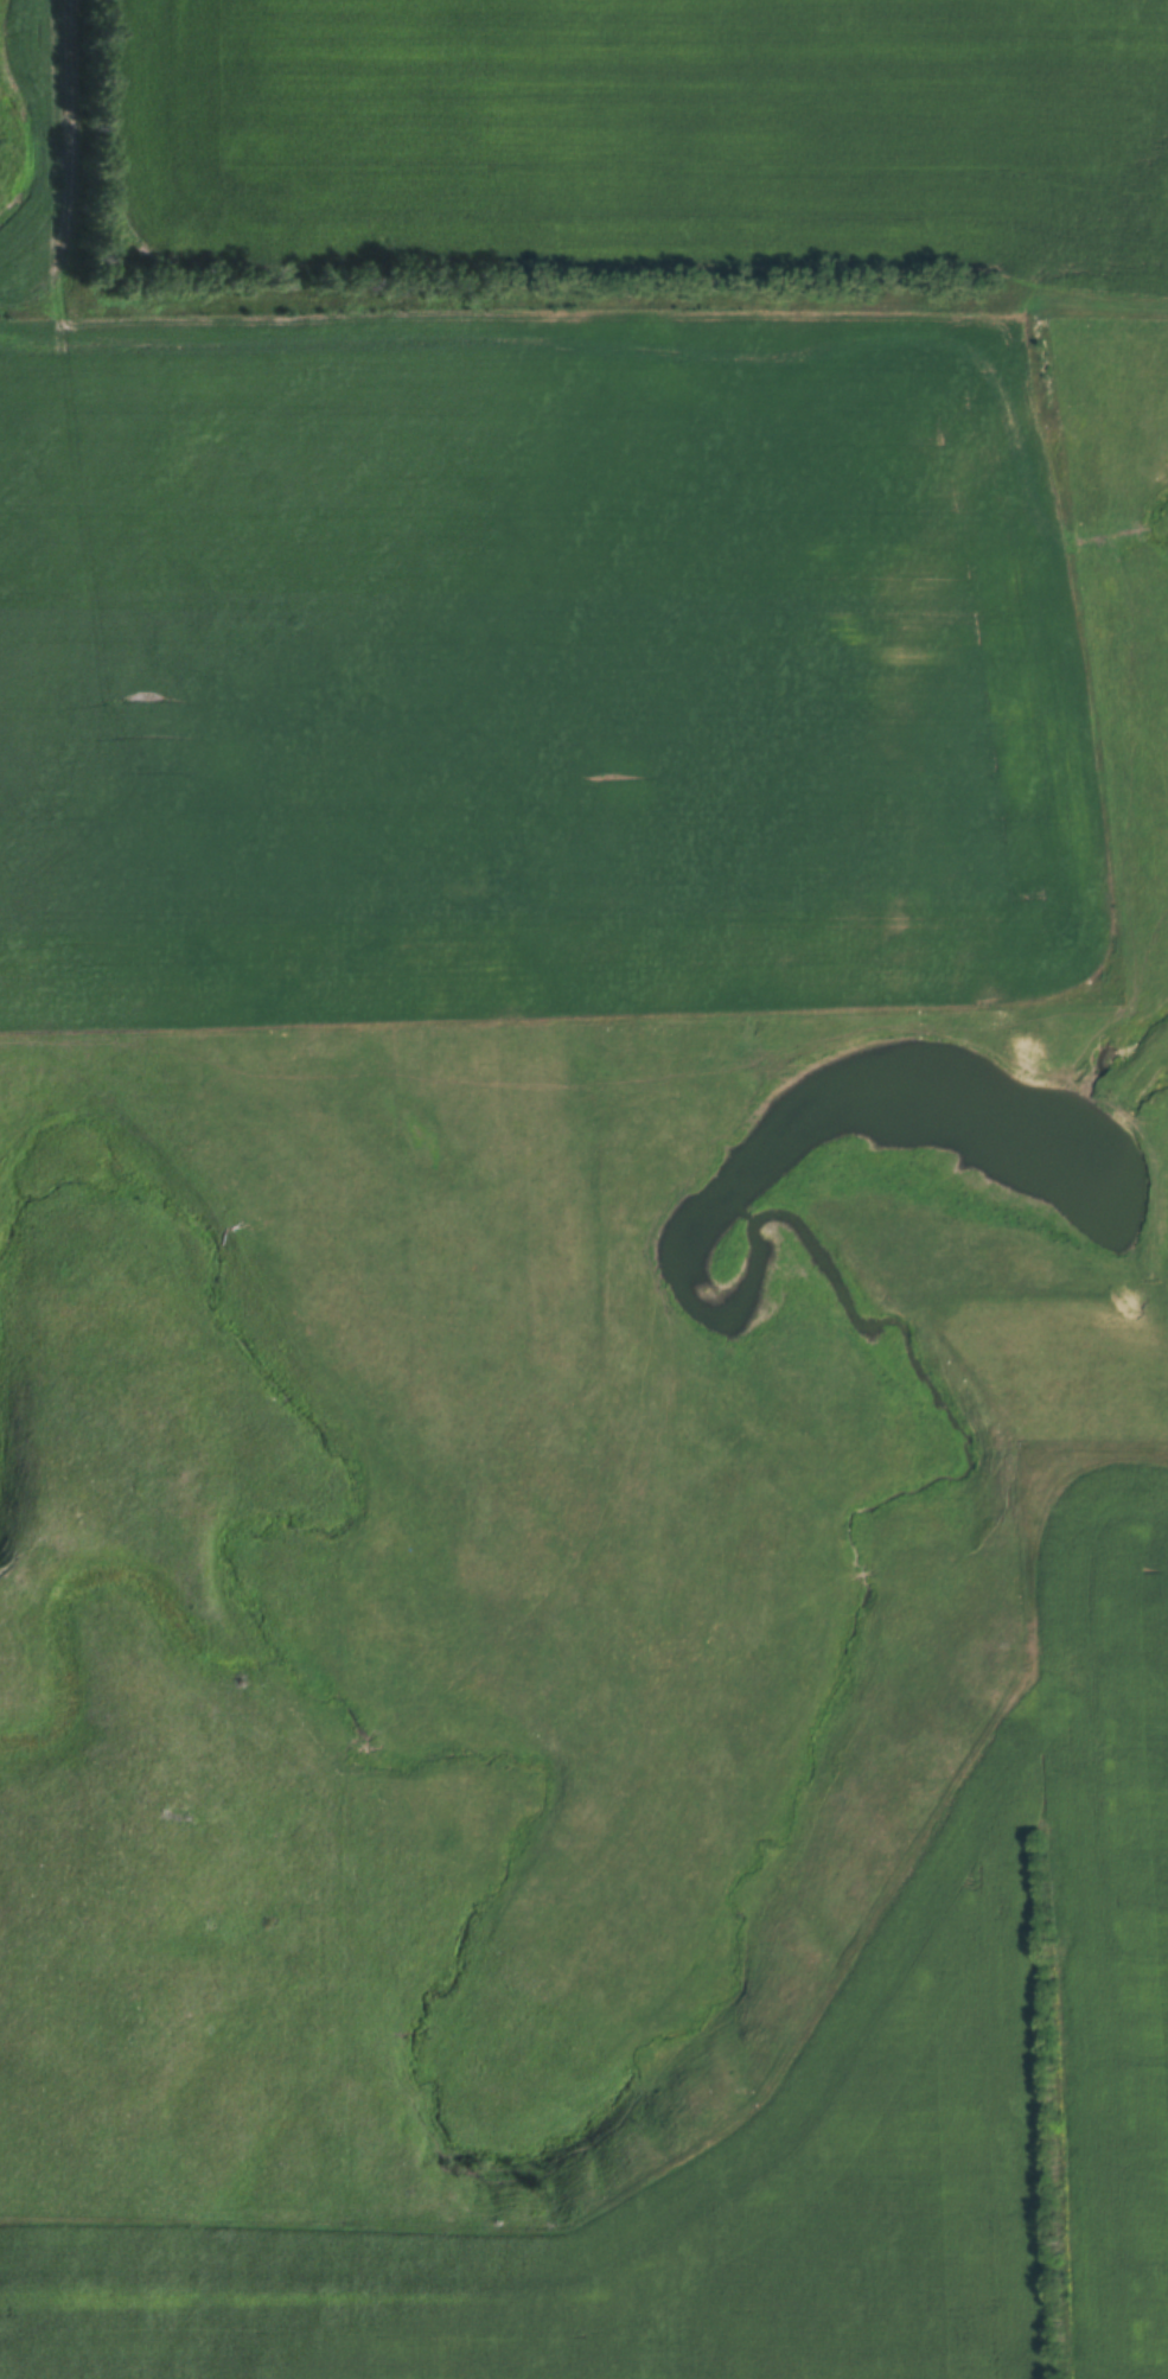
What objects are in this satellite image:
river: (1043, 1162)

